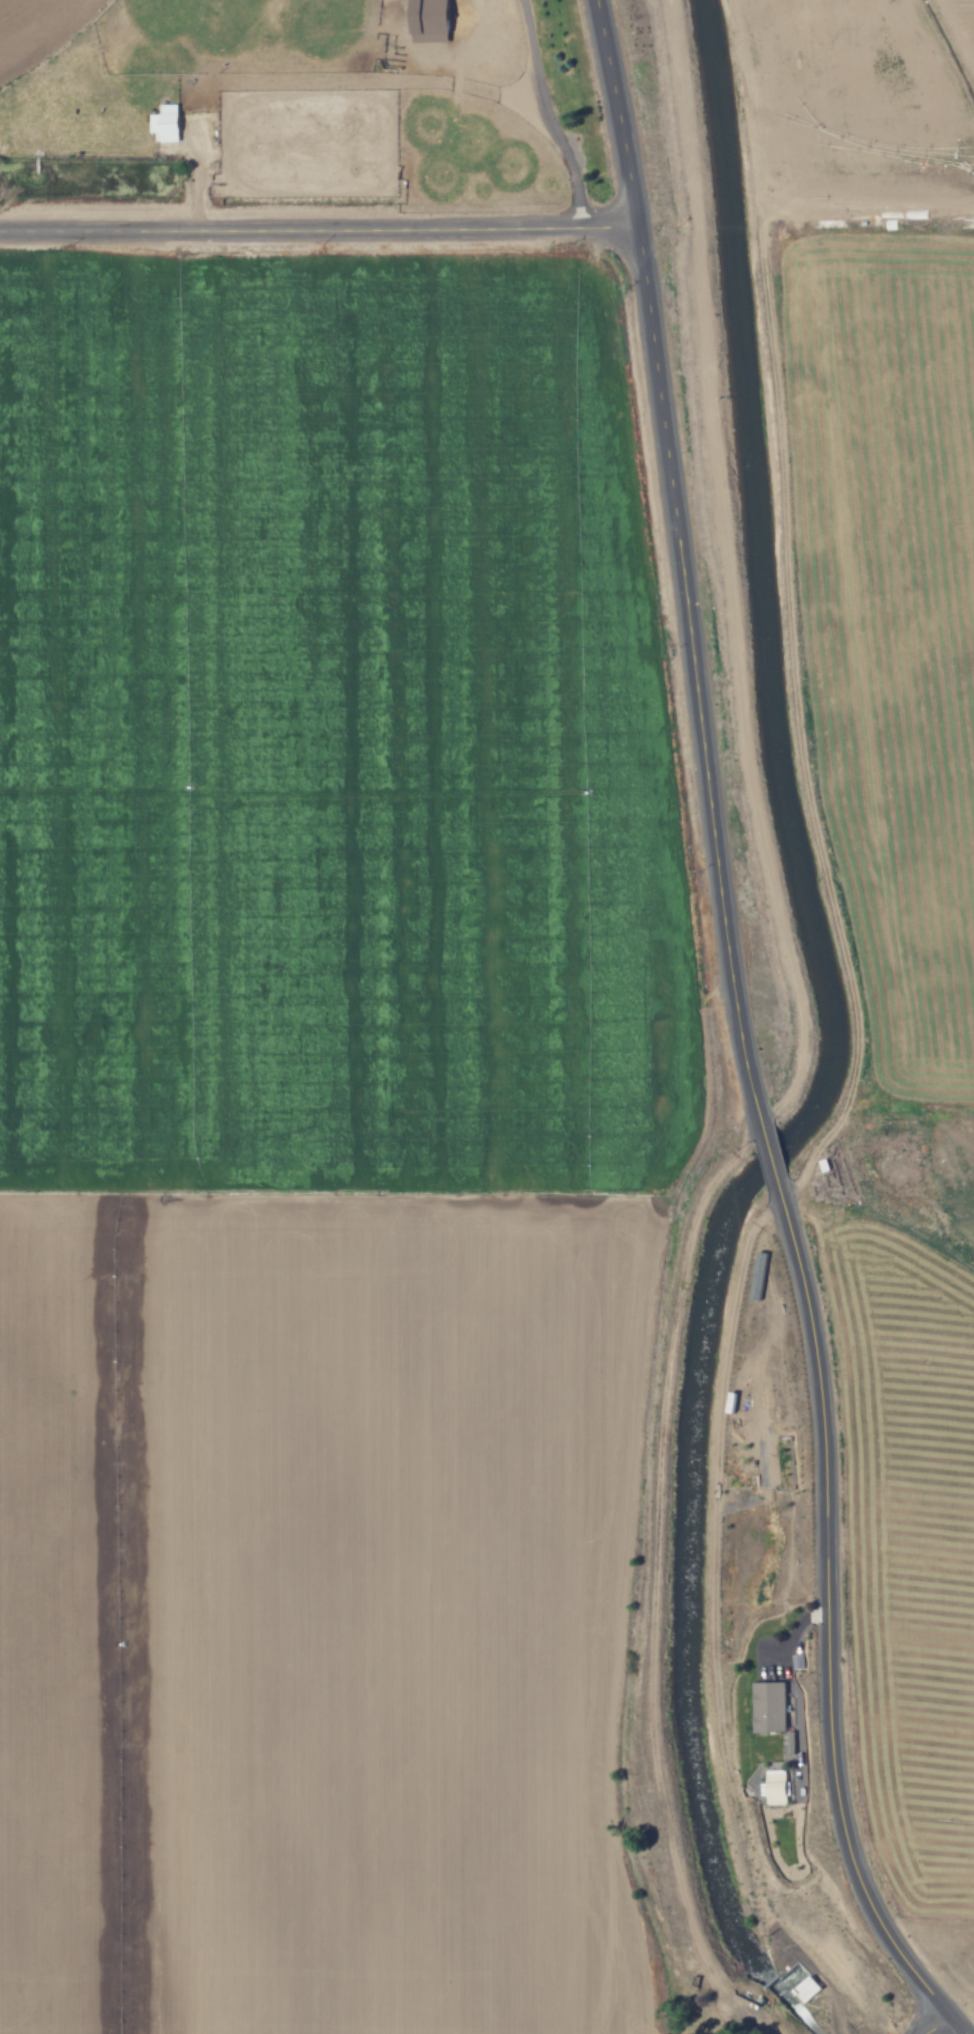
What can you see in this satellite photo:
building: (426, 21)
crop: (289, 101)
building: (163, 123)
road: (319, 230)
road: (681, 562)
crop: (894, 806)
crop: (333, 1141)
road: (770, 1160)
building: (760, 1463)
road: (828, 1615)
building: (768, 1707)
building: (776, 1789)
road: (929, 2024)
road: (949, 2024)

